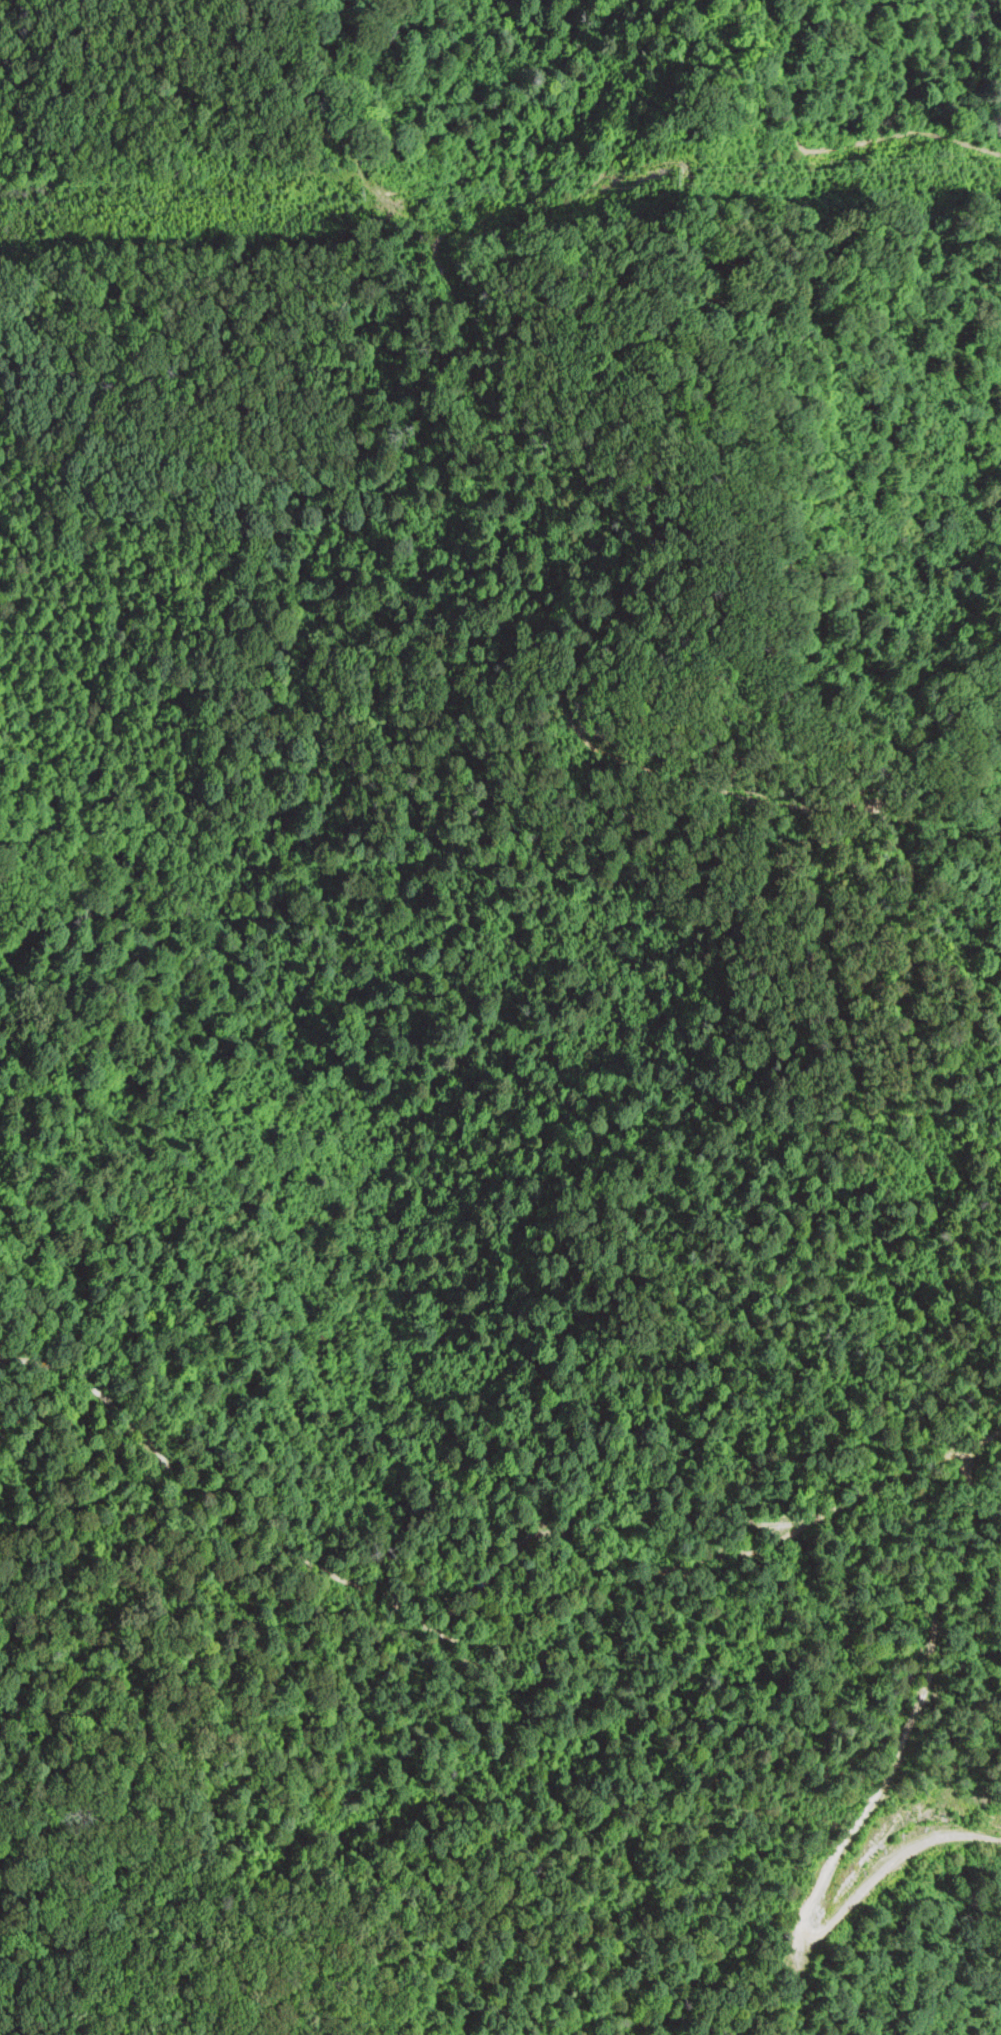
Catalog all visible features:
road: (490, 392)
road: (884, 1793)

